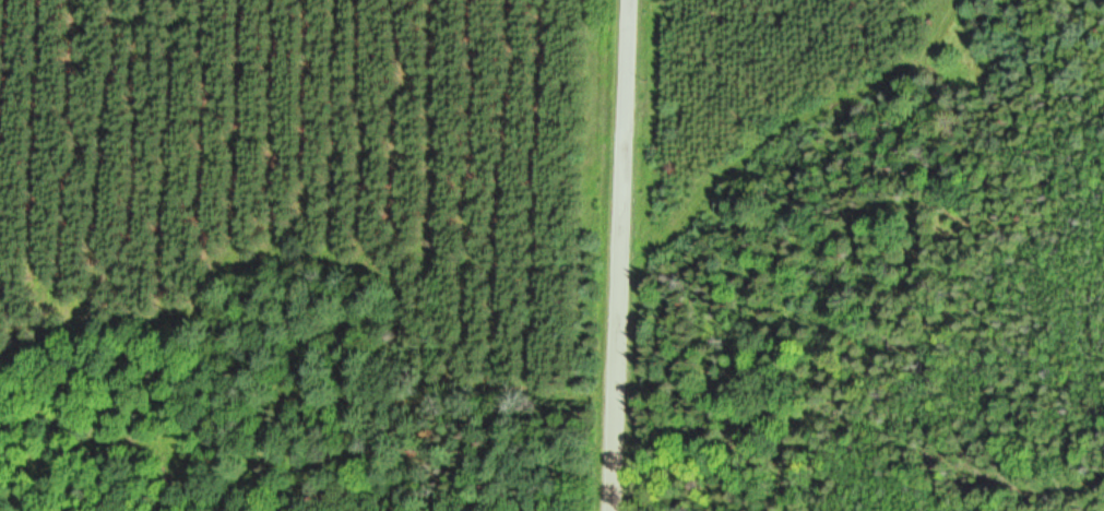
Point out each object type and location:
road: (617, 254)

